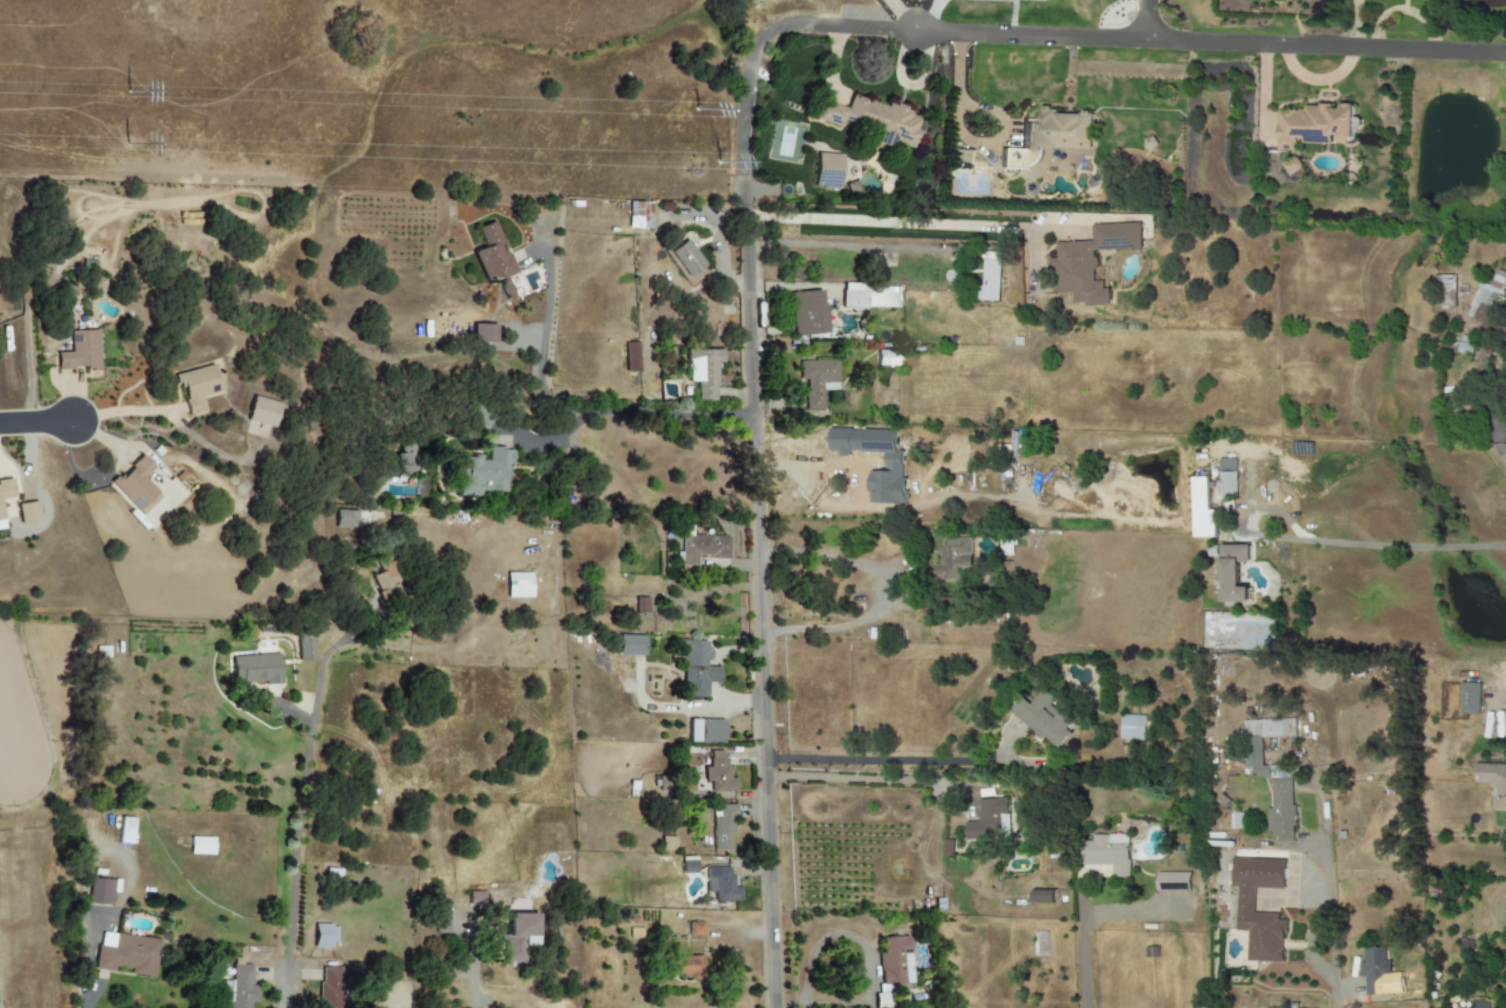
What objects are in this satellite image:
building: (1418, 0)
road: (901, 15)
road: (1146, 19)
road: (881, 29)
road: (1326, 44)
building: (871, 120)
building: (1313, 125)
building: (1049, 137)
building: (1292, 166)
building: (827, 170)
building: (639, 214)
road: (903, 222)
road: (850, 246)
building: (492, 254)
building: (685, 259)
building: (1090, 262)
building: (990, 278)
building: (1445, 292)
building: (855, 295)
building: (1489, 300)
building: (807, 312)
building: (482, 333)
building: (1503, 334)
road: (542, 347)
building: (80, 351)
building: (631, 357)
building: (887, 358)
building: (703, 372)
building: (817, 381)
building: (197, 387)
road: (120, 411)
building: (263, 412)
road: (670, 413)
road: (35, 422)
road: (572, 424)
building: (895, 464)
building: (485, 472)
building: (1227, 484)
building: (5, 495)
building: (1202, 509)
building: (28, 513)
building: (346, 519)
road: (1374, 544)
building: (703, 549)
building: (954, 559)
building: (1234, 573)
building: (387, 576)
building: (518, 585)
road: (883, 588)
road: (756, 591)
building: (630, 645)
building: (305, 648)
building: (256, 668)
building: (696, 668)
building: (1469, 698)
road: (287, 715)
building: (1045, 718)
building: (1132, 727)
building: (706, 731)
building: (1252, 751)
road: (904, 760)
building: (718, 774)
road: (859, 779)
building: (1493, 782)
road: (301, 796)
building: (1281, 811)
building: (989, 820)
building: (1236, 821)
building: (723, 827)
building: (125, 830)
building: (201, 846)
road: (111, 850)
building: (1107, 853)
building: (1172, 881)
building: (721, 884)
building: (99, 891)
building: (1042, 896)
road: (1327, 896)
building: (476, 898)
building: (1245, 900)
building: (441, 919)
road: (1077, 924)
building: (695, 929)
building: (324, 935)
building: (518, 936)
building: (128, 955)
building: (895, 960)
road: (868, 965)
road: (474, 966)
building: (685, 966)
building: (1375, 971)
road: (89, 973)
building: (329, 987)
building: (238, 988)
building: (1479, 1004)
building: (1293, 1005)

